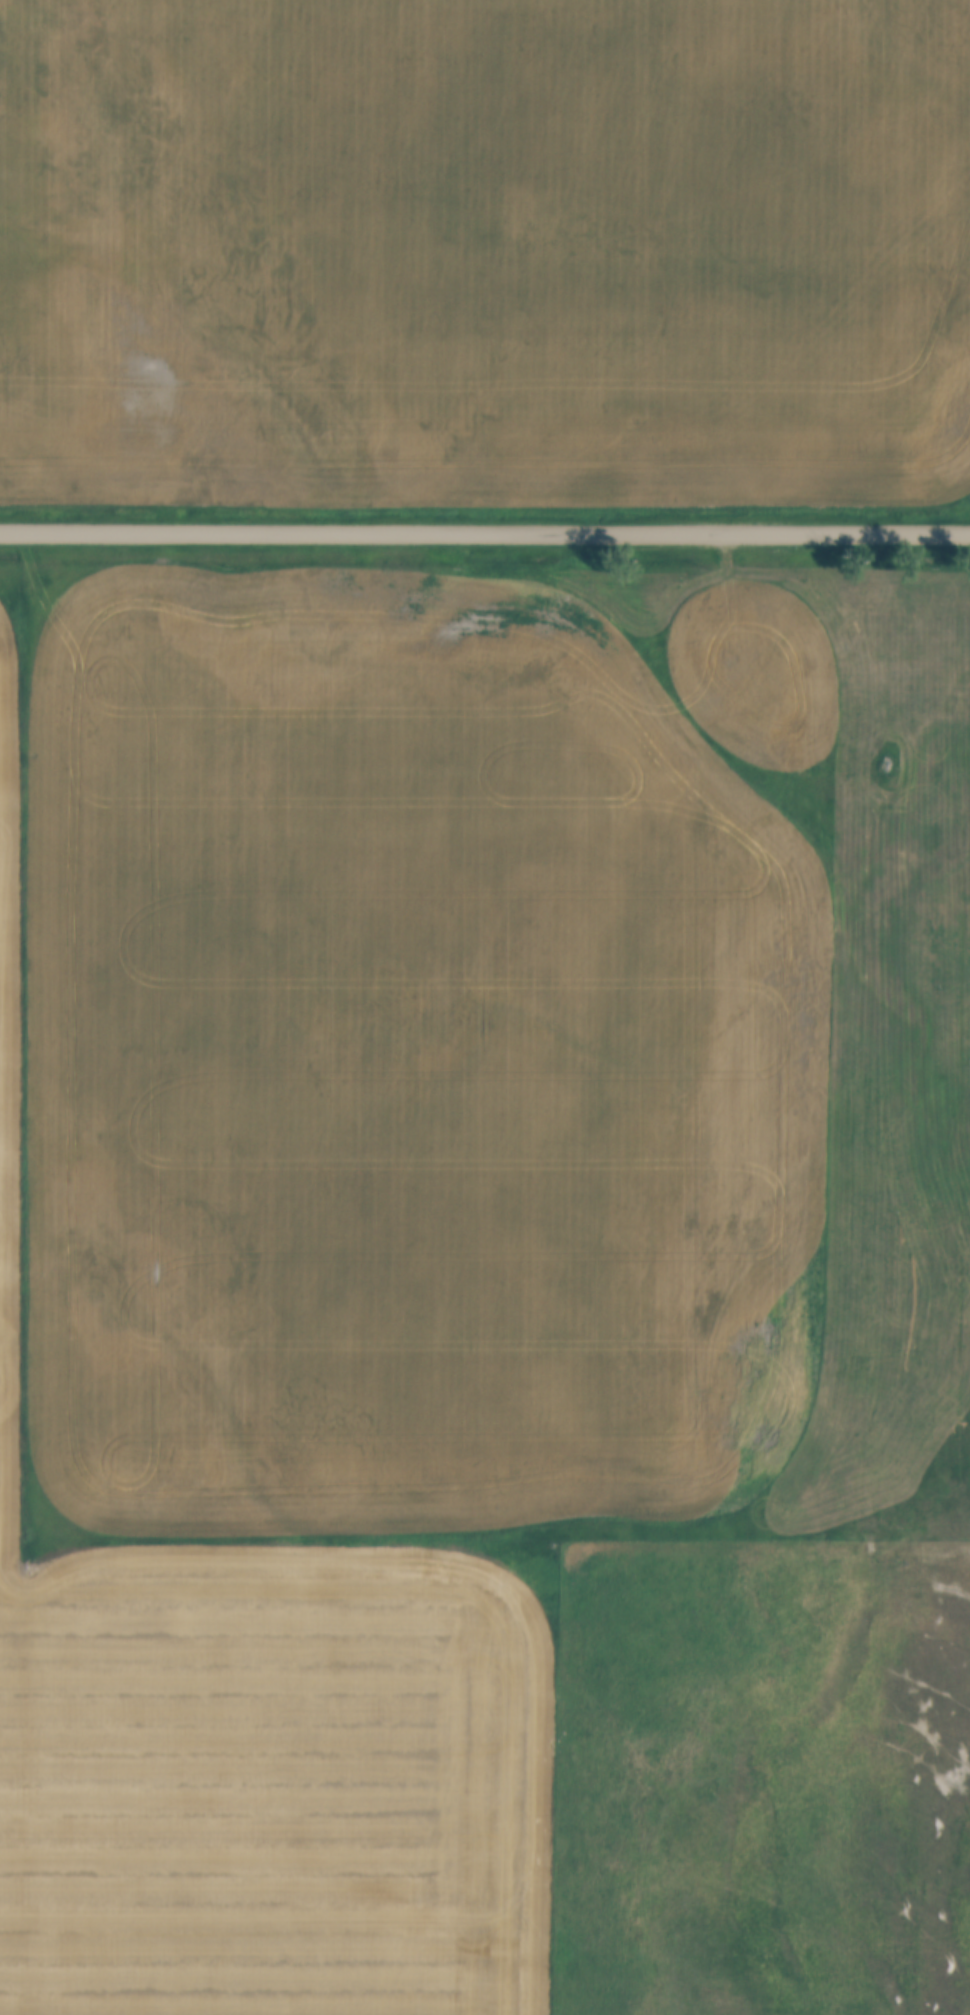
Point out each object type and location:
road: (485, 535)

